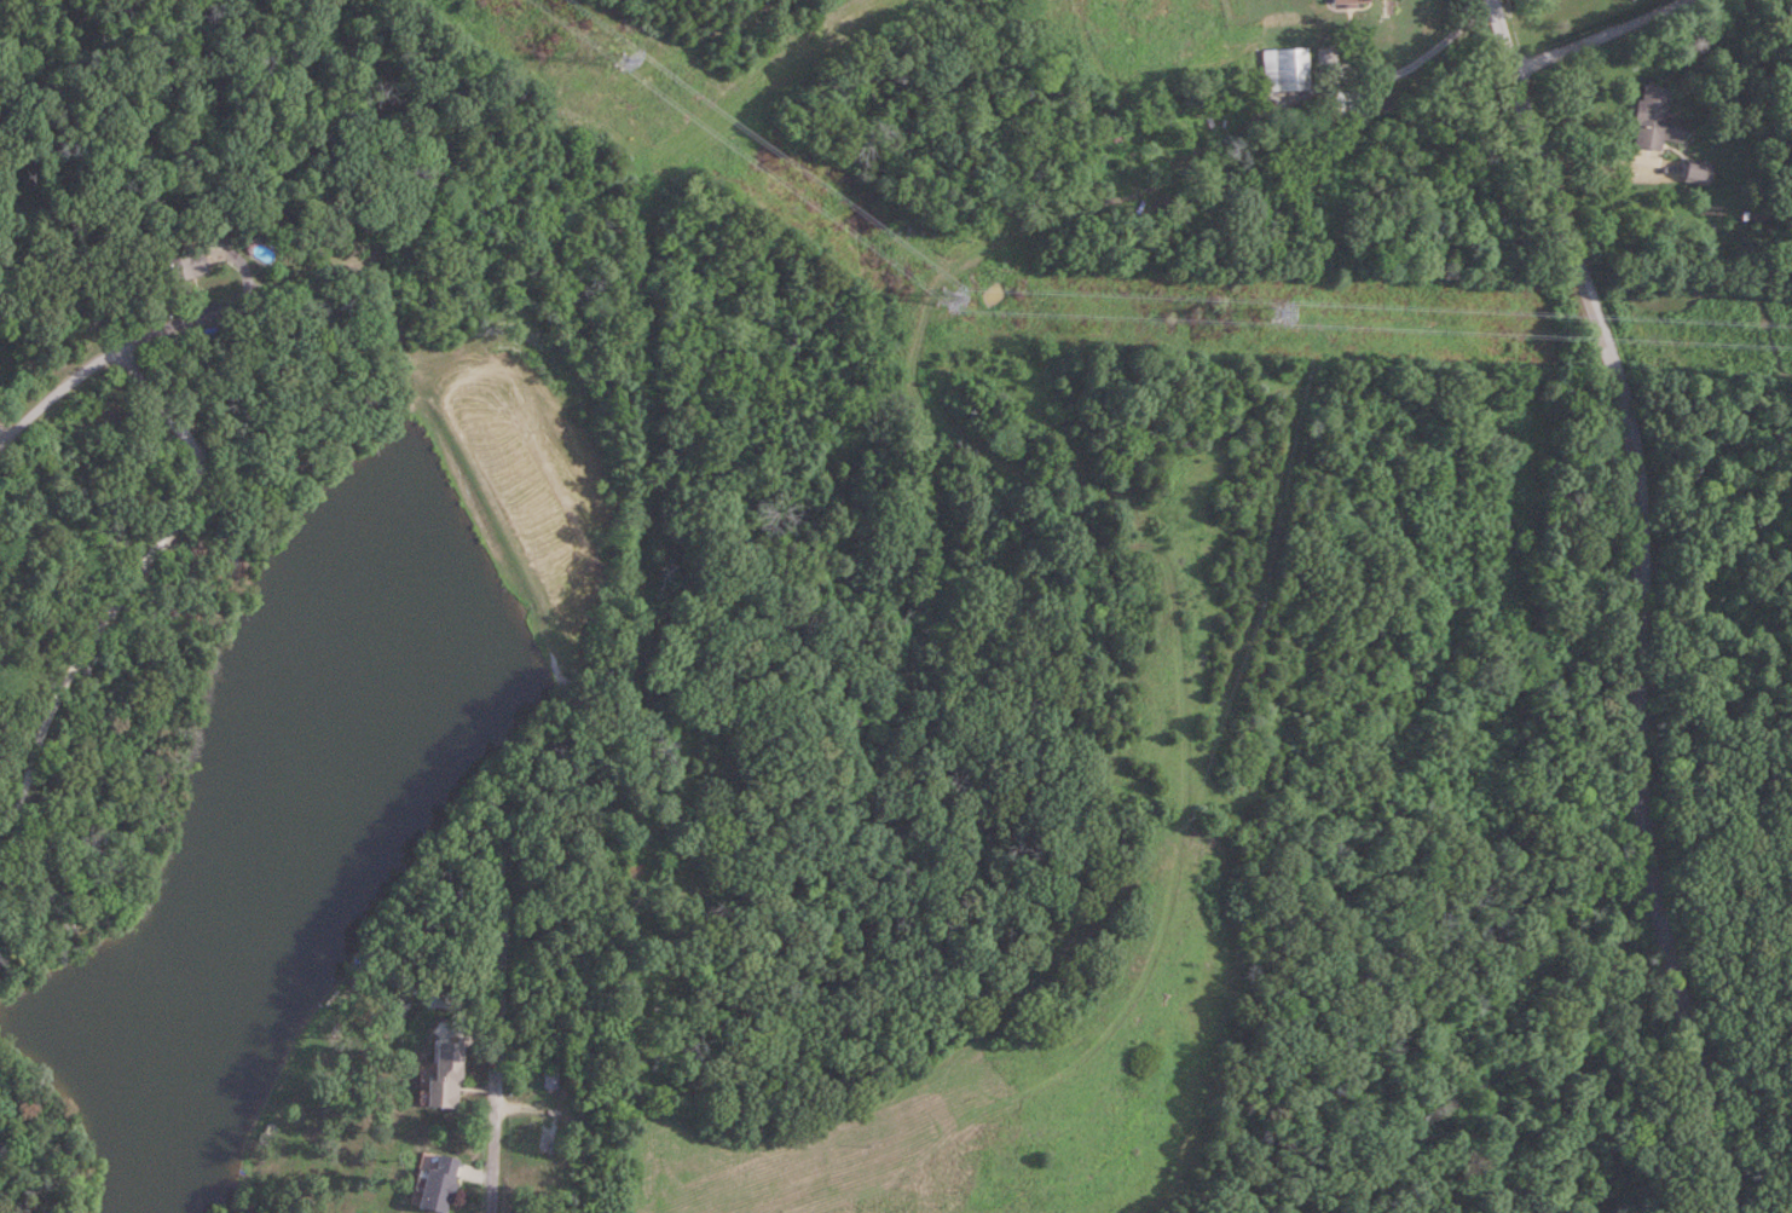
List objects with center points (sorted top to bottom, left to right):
building: (1346, 2)
road: (1599, 35)
road: (1418, 60)
power tower: (606, 64)
building: (1283, 69)
building: (1654, 119)
building: (1696, 172)
road: (127, 230)
building: (185, 266)
power tower: (936, 307)
power tower: (1270, 318)
road: (125, 345)
dam: (526, 508)
road: (141, 576)
road: (1642, 599)
building: (440, 1085)
road: (497, 1130)
building: (434, 1184)

